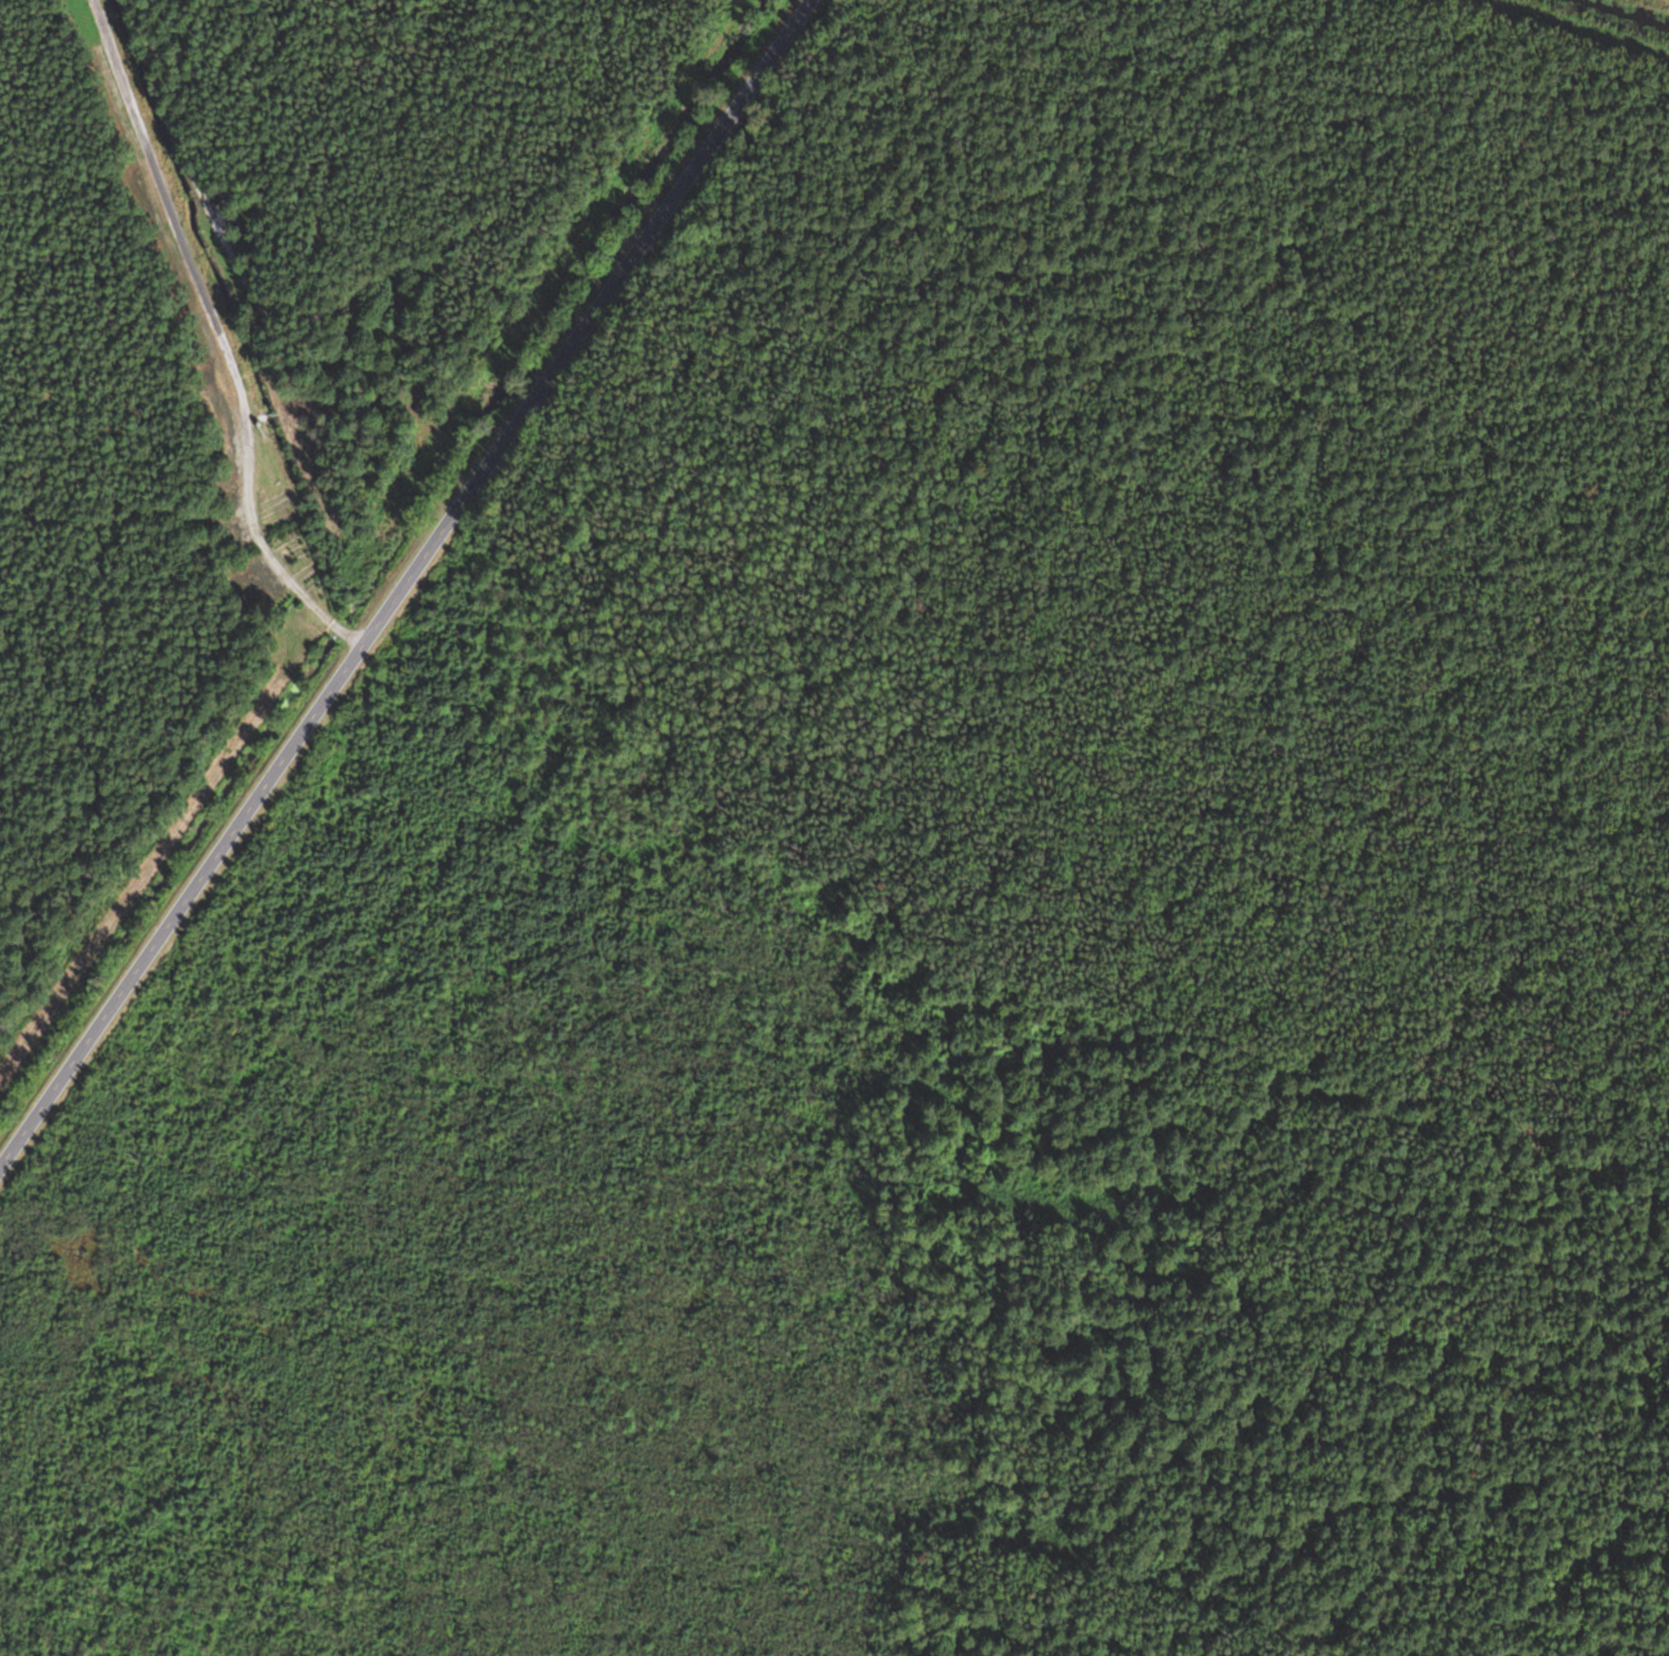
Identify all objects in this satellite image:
road: (210, 340)
road: (404, 582)

